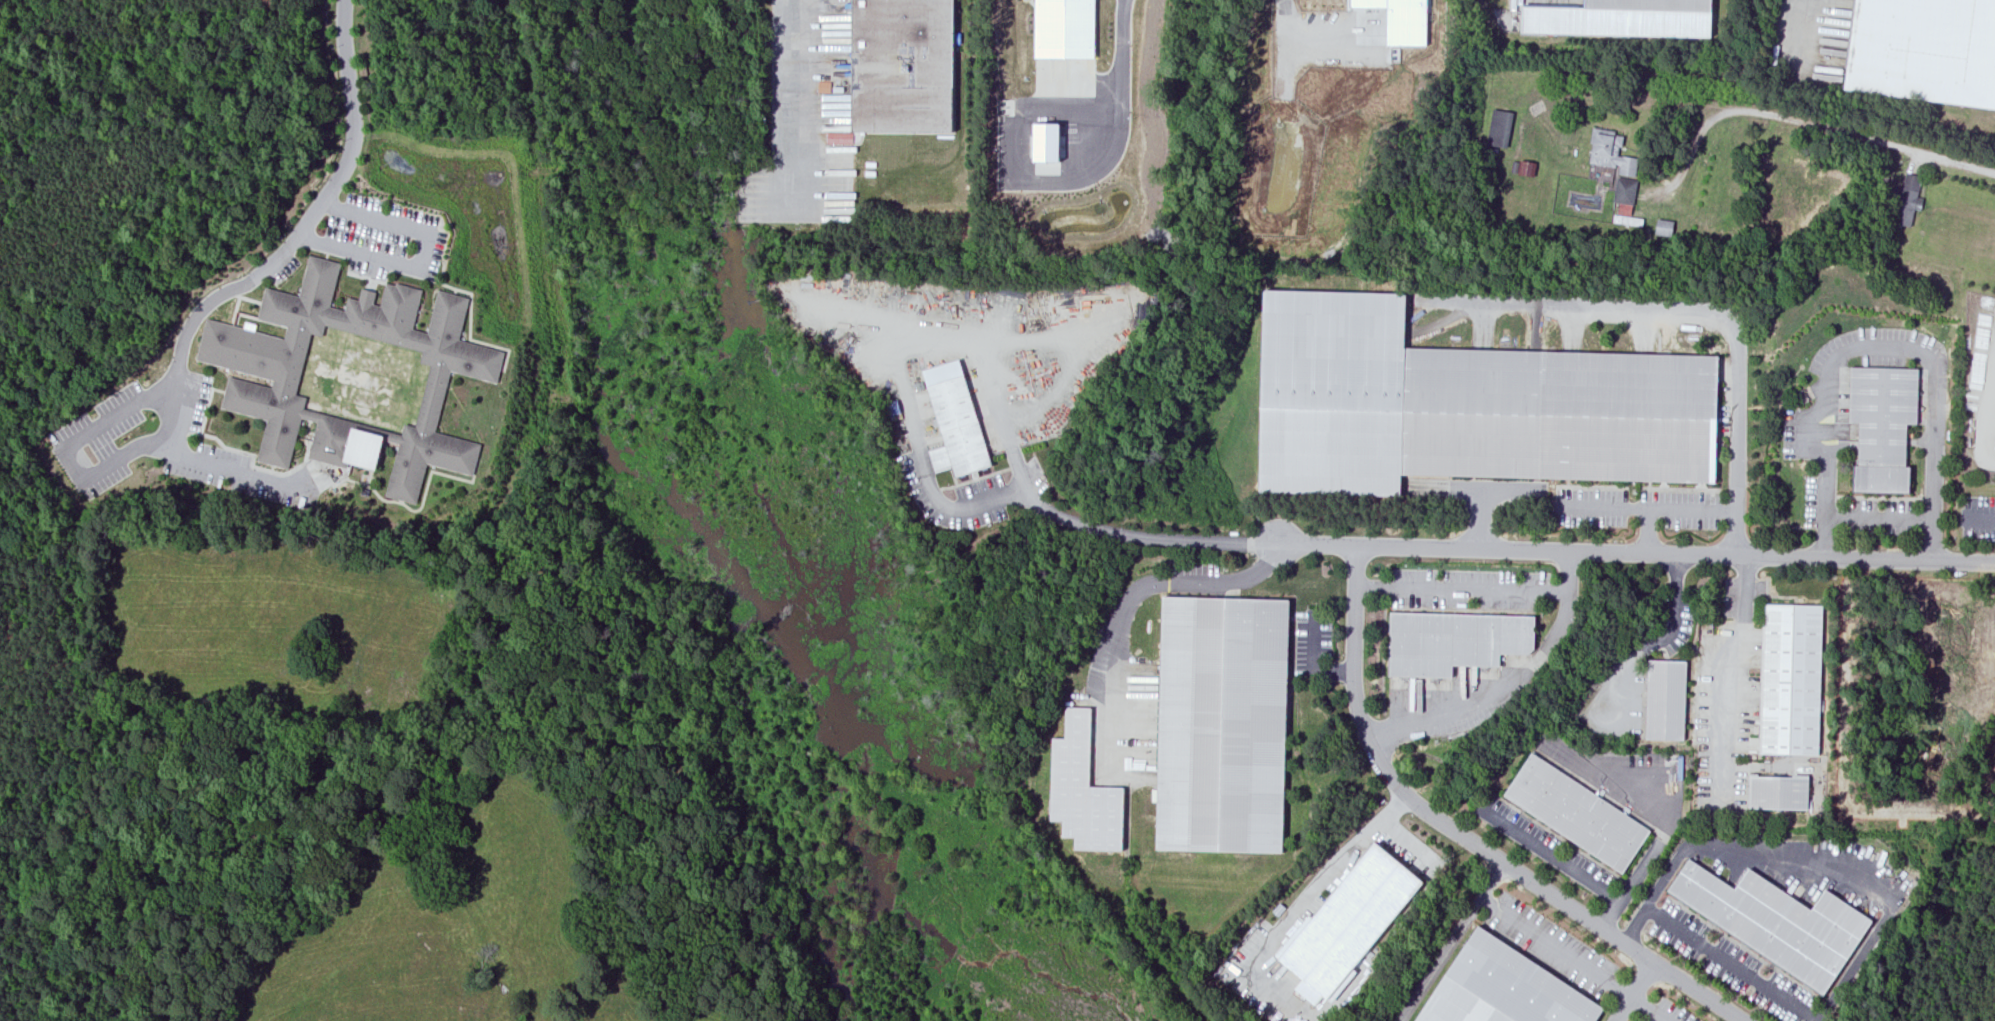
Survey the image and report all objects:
road: (1285, 2)
building: (1652, 6)
building: (1402, 19)
building: (1065, 29)
road: (1789, 29)
building: (1925, 49)
road: (1119, 52)
building: (904, 66)
road: (786, 84)
road: (1802, 122)
building: (1497, 127)
building: (1047, 142)
building: (1613, 163)
road: (1020, 166)
building: (1904, 199)
building: (1662, 227)
road: (291, 242)
road: (423, 254)
road: (1695, 309)
road: (979, 340)
road: (1831, 361)
building: (281, 378)
building: (1460, 405)
building: (956, 420)
building: (1880, 426)
road: (1935, 463)
road: (110, 464)
road: (1647, 506)
road: (1054, 512)
road: (1979, 518)
road: (1858, 519)
road: (1647, 531)
road: (1824, 539)
road: (1636, 554)
road: (1459, 589)
street lamp: (1665, 603)
road: (1127, 606)
street lamp: (1661, 629)
building: (1451, 641)
road: (1650, 646)
road: (1313, 662)
road: (1733, 674)
building: (1788, 679)
road: (1508, 684)
building: (1666, 699)
building: (1218, 724)
building: (1079, 789)
building: (1775, 792)
building: (1574, 813)
road: (1666, 822)
road: (1462, 836)
road: (1408, 840)
road: (1548, 854)
road: (1809, 863)
road: (1293, 908)
building: (1348, 921)
building: (1775, 921)
road: (1450, 942)
road: (1575, 958)
road: (1728, 964)
building: (1503, 988)
road: (1633, 991)

